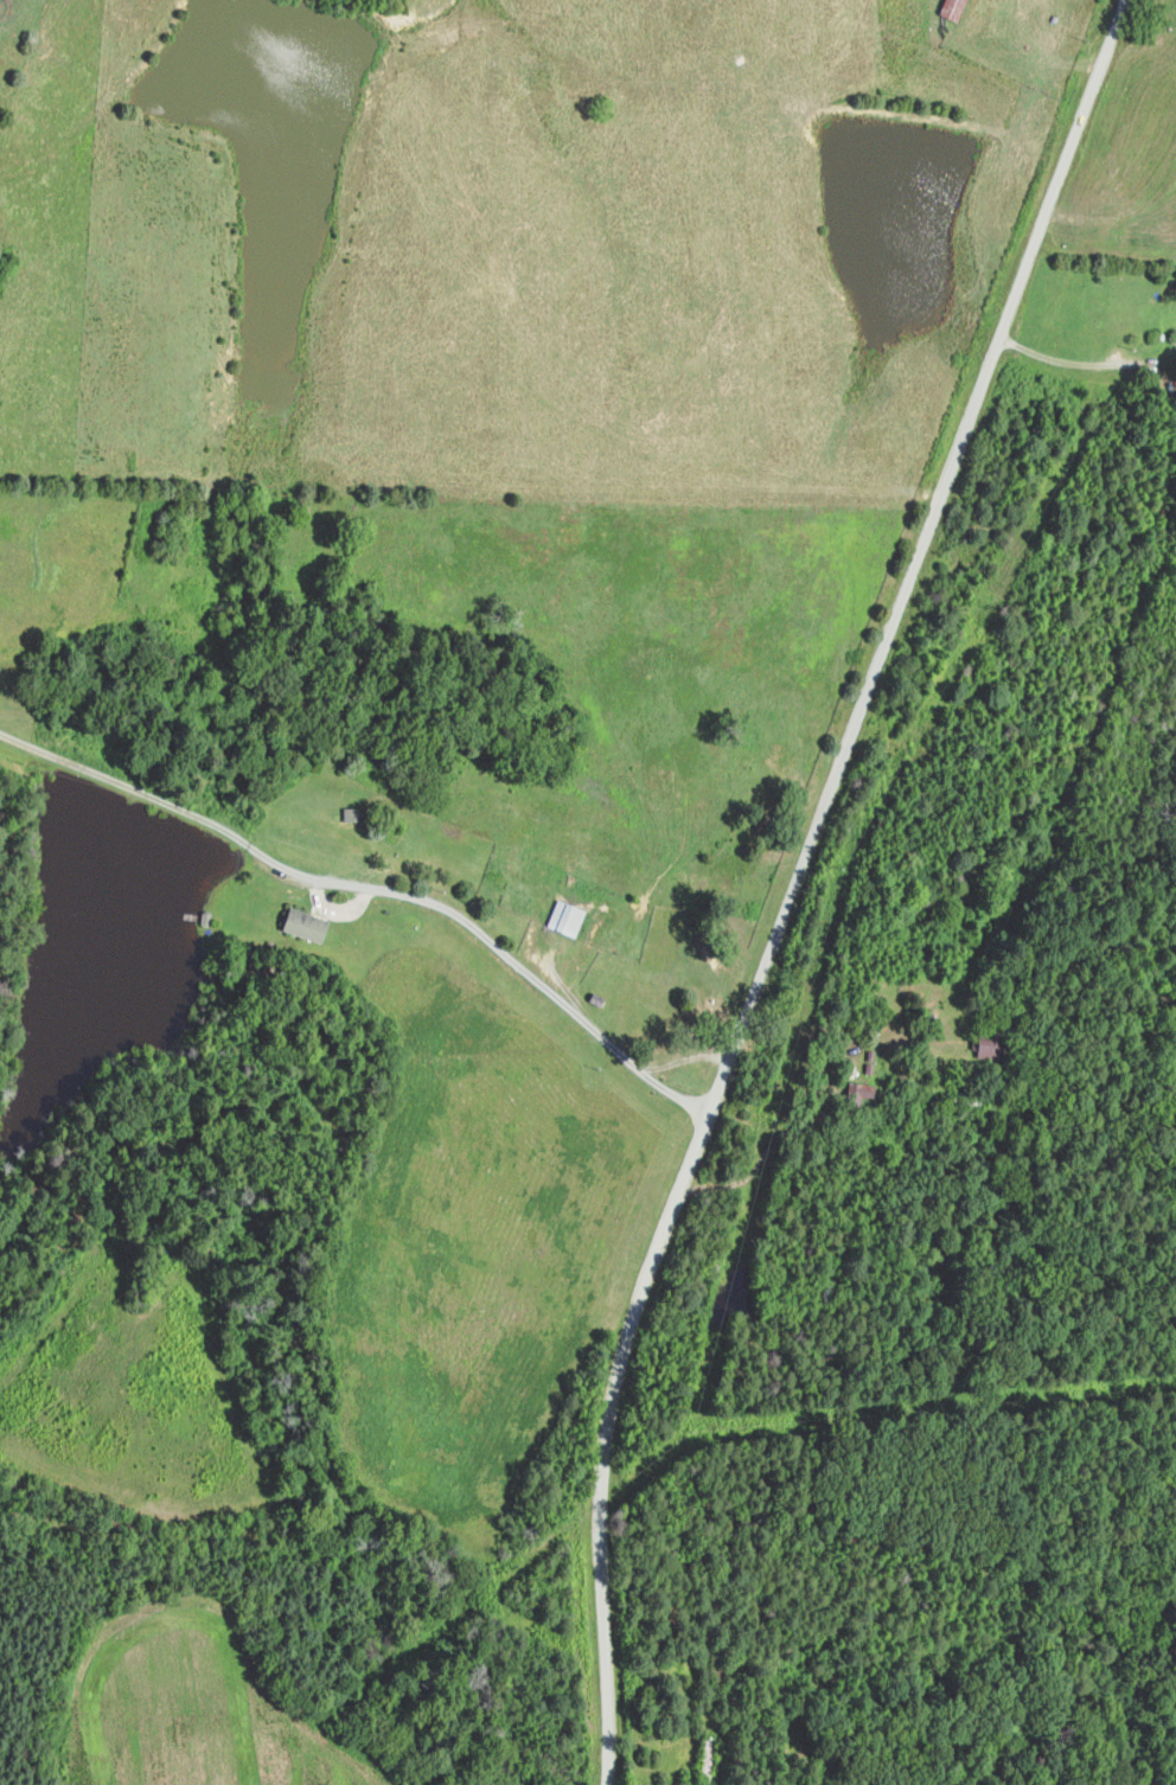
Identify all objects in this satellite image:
building: (947, 8)
road: (1085, 364)
building: (357, 813)
road: (794, 878)
road: (375, 889)
building: (309, 923)

